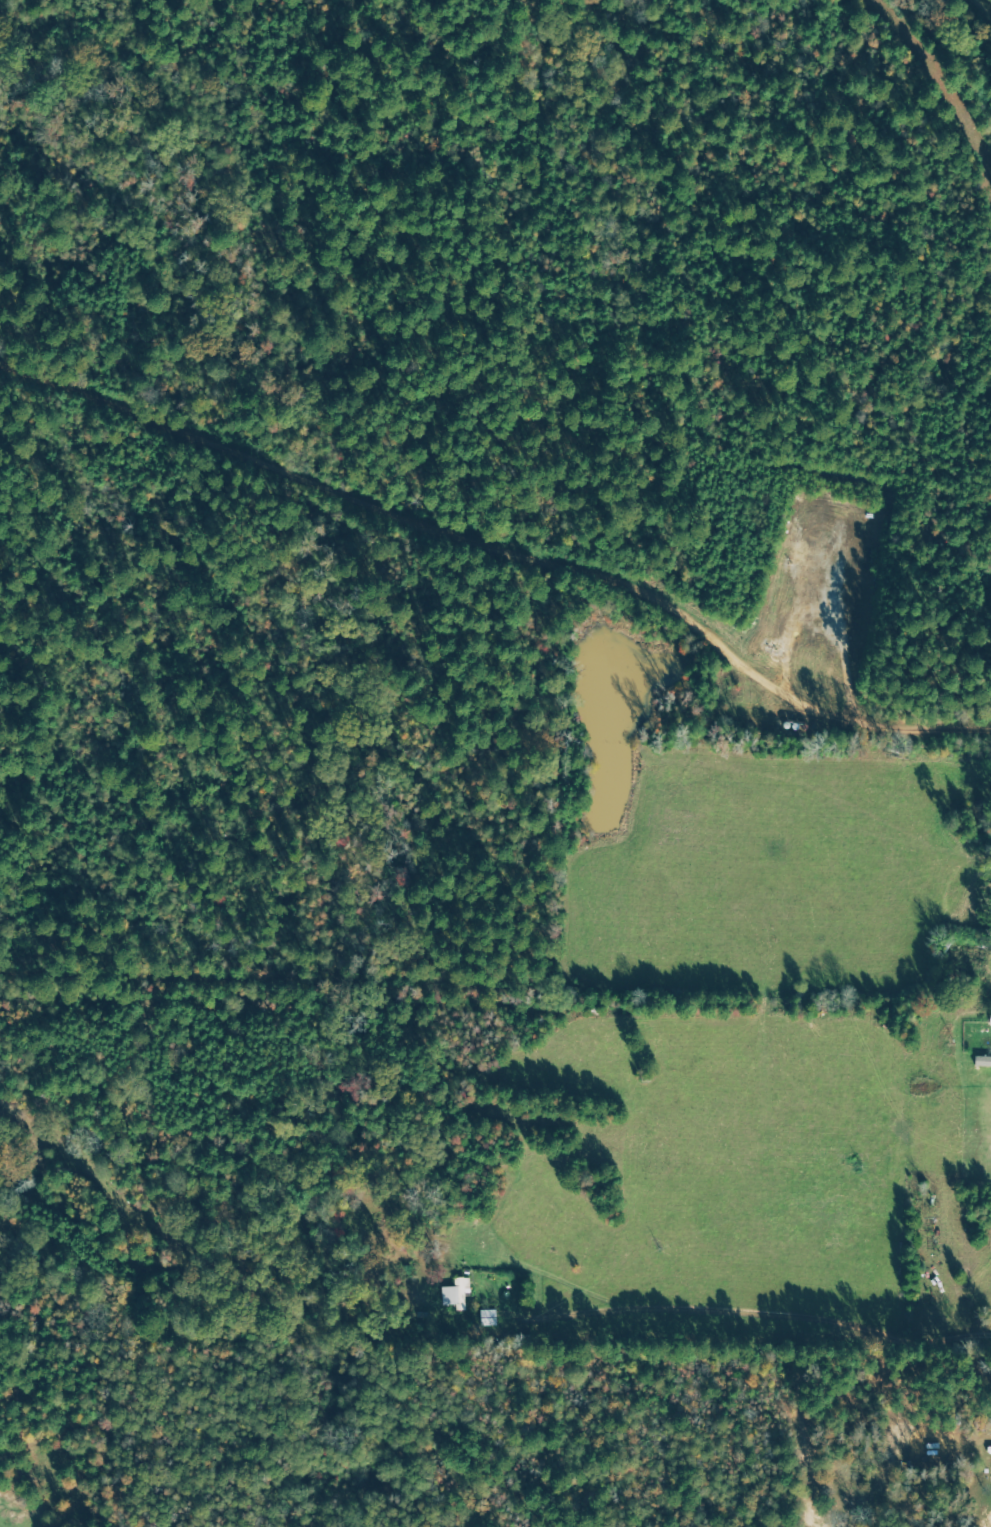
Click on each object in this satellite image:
building: (982, 1061)
building: (456, 1293)
road: (758, 1312)

